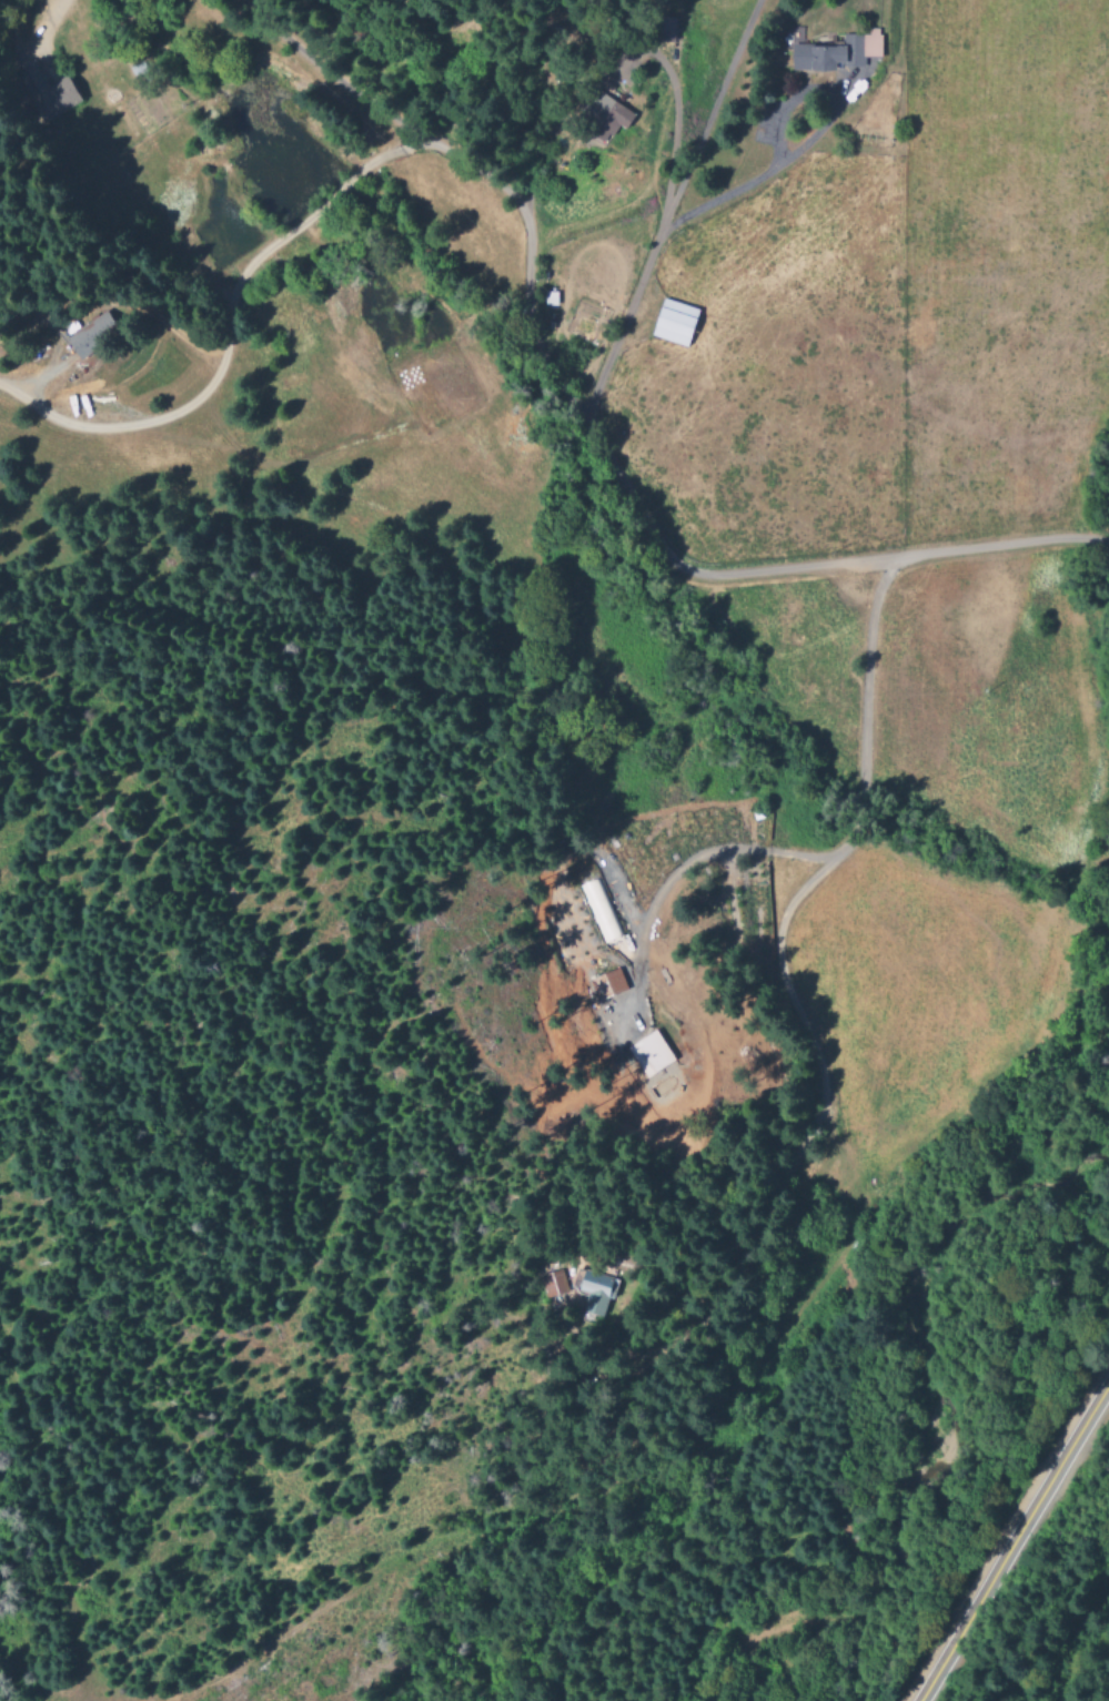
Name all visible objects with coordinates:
building: (828, 55)
building: (43, 91)
building: (604, 113)
road: (714, 202)
road: (669, 210)
building: (677, 324)
building: (85, 340)
road: (589, 434)
road: (1108, 541)
building: (582, 924)
building: (607, 986)
road: (788, 993)
building: (652, 1055)
building: (596, 1293)
road: (1014, 1540)

